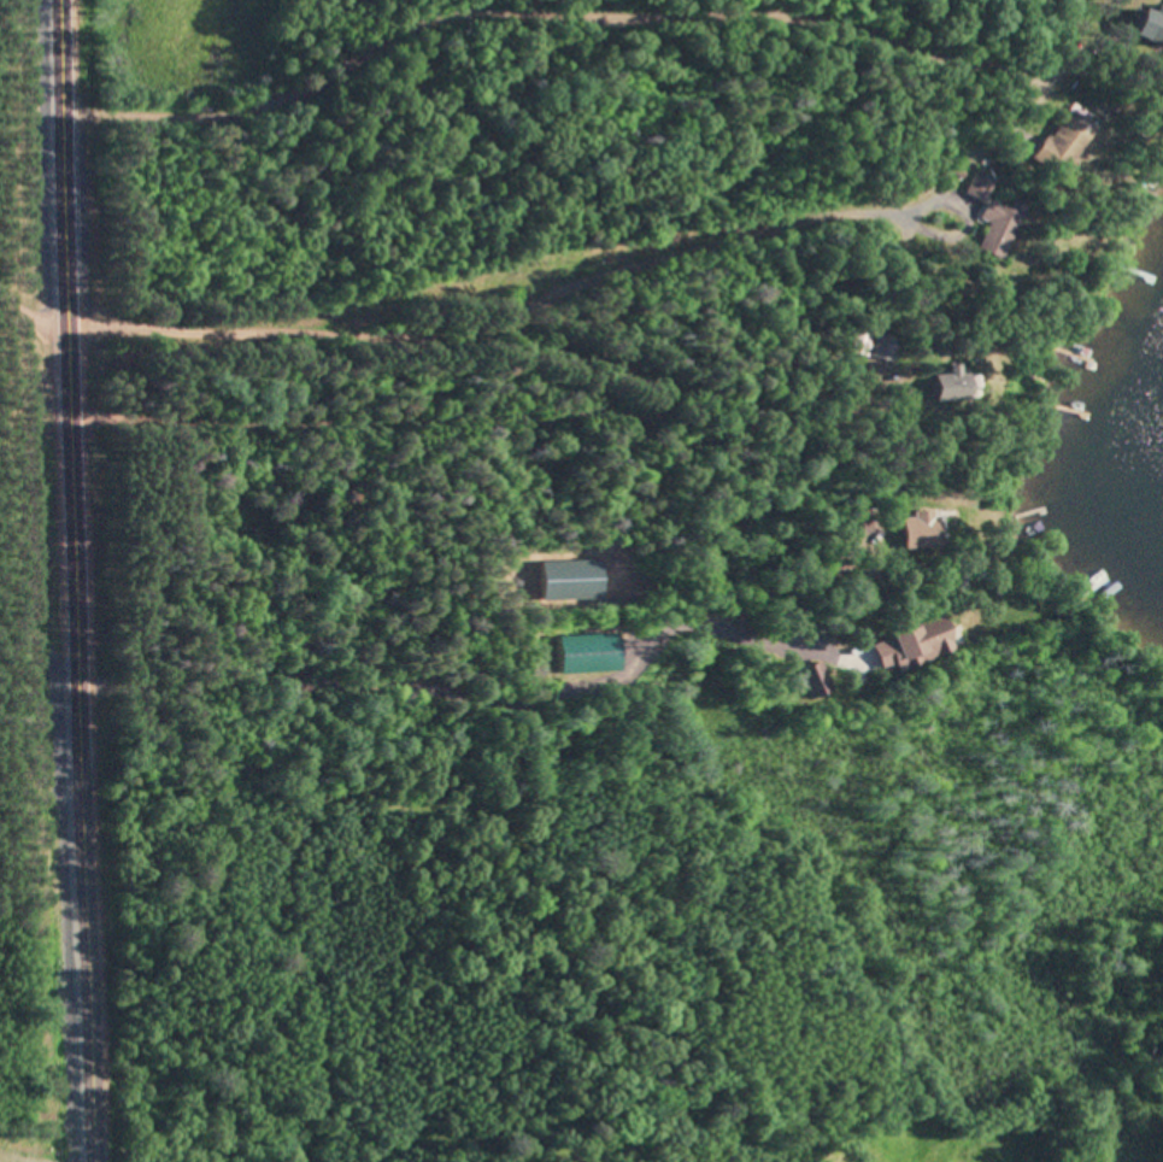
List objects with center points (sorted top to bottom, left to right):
road: (529, 14)
building: (1152, 25)
building: (1065, 143)
building: (999, 229)
road: (512, 358)
building: (952, 386)
building: (922, 534)
road: (76, 580)
building: (935, 638)
building: (807, 685)

